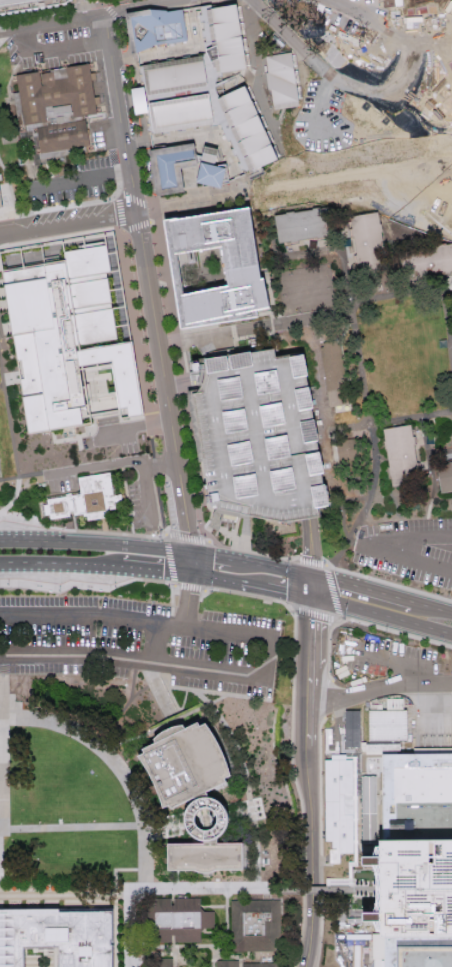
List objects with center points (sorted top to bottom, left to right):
building: (27, 4)
road: (138, 6)
road: (53, 8)
road: (83, 8)
road: (115, 8)
road: (51, 21)
building: (154, 28)
road: (1, 35)
building: (226, 38)
parking lot: (53, 46)
road: (59, 47)
road: (129, 52)
road: (255, 53)
building: (279, 77)
building: (145, 94)
building: (133, 97)
road: (136, 100)
building: (58, 108)
road: (120, 112)
building: (247, 128)
building: (170, 166)
building: (210, 168)
road: (84, 178)
parking lot: (71, 180)
road: (9, 189)
road: (260, 190)
road: (136, 199)
building: (0, 202)
road: (189, 202)
road: (69, 205)
building: (305, 223)
road: (68, 224)
road: (122, 227)
road: (140, 232)
road: (61, 237)
building: (368, 242)
building: (426, 259)
building: (241, 264)
road: (426, 288)
park: (307, 290)
road: (133, 320)
road: (312, 321)
road: (226, 334)
road: (201, 342)
building: (71, 345)
road: (355, 346)
road: (181, 369)
building: (331, 377)
road: (1, 383)
road: (178, 383)
road: (167, 402)
road: (410, 414)
road: (10, 427)
road: (137, 427)
building: (257, 435)
parking lot: (257, 435)
road: (439, 450)
building: (401, 455)
road: (97, 466)
road: (155, 473)
road: (34, 474)
road: (144, 474)
road: (430, 474)
building: (445, 476)
road: (441, 496)
road: (13, 497)
building: (80, 498)
road: (82, 530)
road: (369, 536)
road: (31, 539)
road: (83, 542)
road: (388, 544)
road: (146, 546)
road: (310, 546)
parking lot: (409, 548)
road: (168, 551)
traffic signals: (189, 552)
road: (219, 557)
road: (189, 562)
road: (45, 563)
road: (140, 567)
road: (281, 568)
traffic signals: (189, 573)
traffic signals: (312, 575)
road: (217, 577)
road: (388, 581)
road: (87, 584)
road: (312, 586)
road: (279, 589)
road: (372, 589)
traffic signals: (313, 597)
road: (187, 599)
road: (333, 599)
road: (442, 608)
road: (382, 614)
road: (368, 625)
parking lot: (138, 641)
road: (155, 642)
road: (267, 653)
road: (406, 661)
road: (398, 671)
road: (3, 677)
road: (155, 684)
road: (380, 687)
road: (141, 690)
road: (322, 694)
road: (124, 705)
building: (387, 719)
road: (156, 726)
building: (350, 728)
road: (291, 742)
road: (241, 757)
road: (3, 761)
road: (310, 782)
building: (193, 795)
road: (139, 804)
road: (126, 824)
road: (320, 842)
building: (417, 859)
road: (201, 887)
road: (338, 887)
road: (275, 888)
road: (115, 903)
building: (179, 919)
building: (354, 919)
building: (255, 926)
building: (55, 938)
road: (216, 945)
road: (214, 956)
building: (157, 962)
building: (241, 964)
road: (355, 966)

